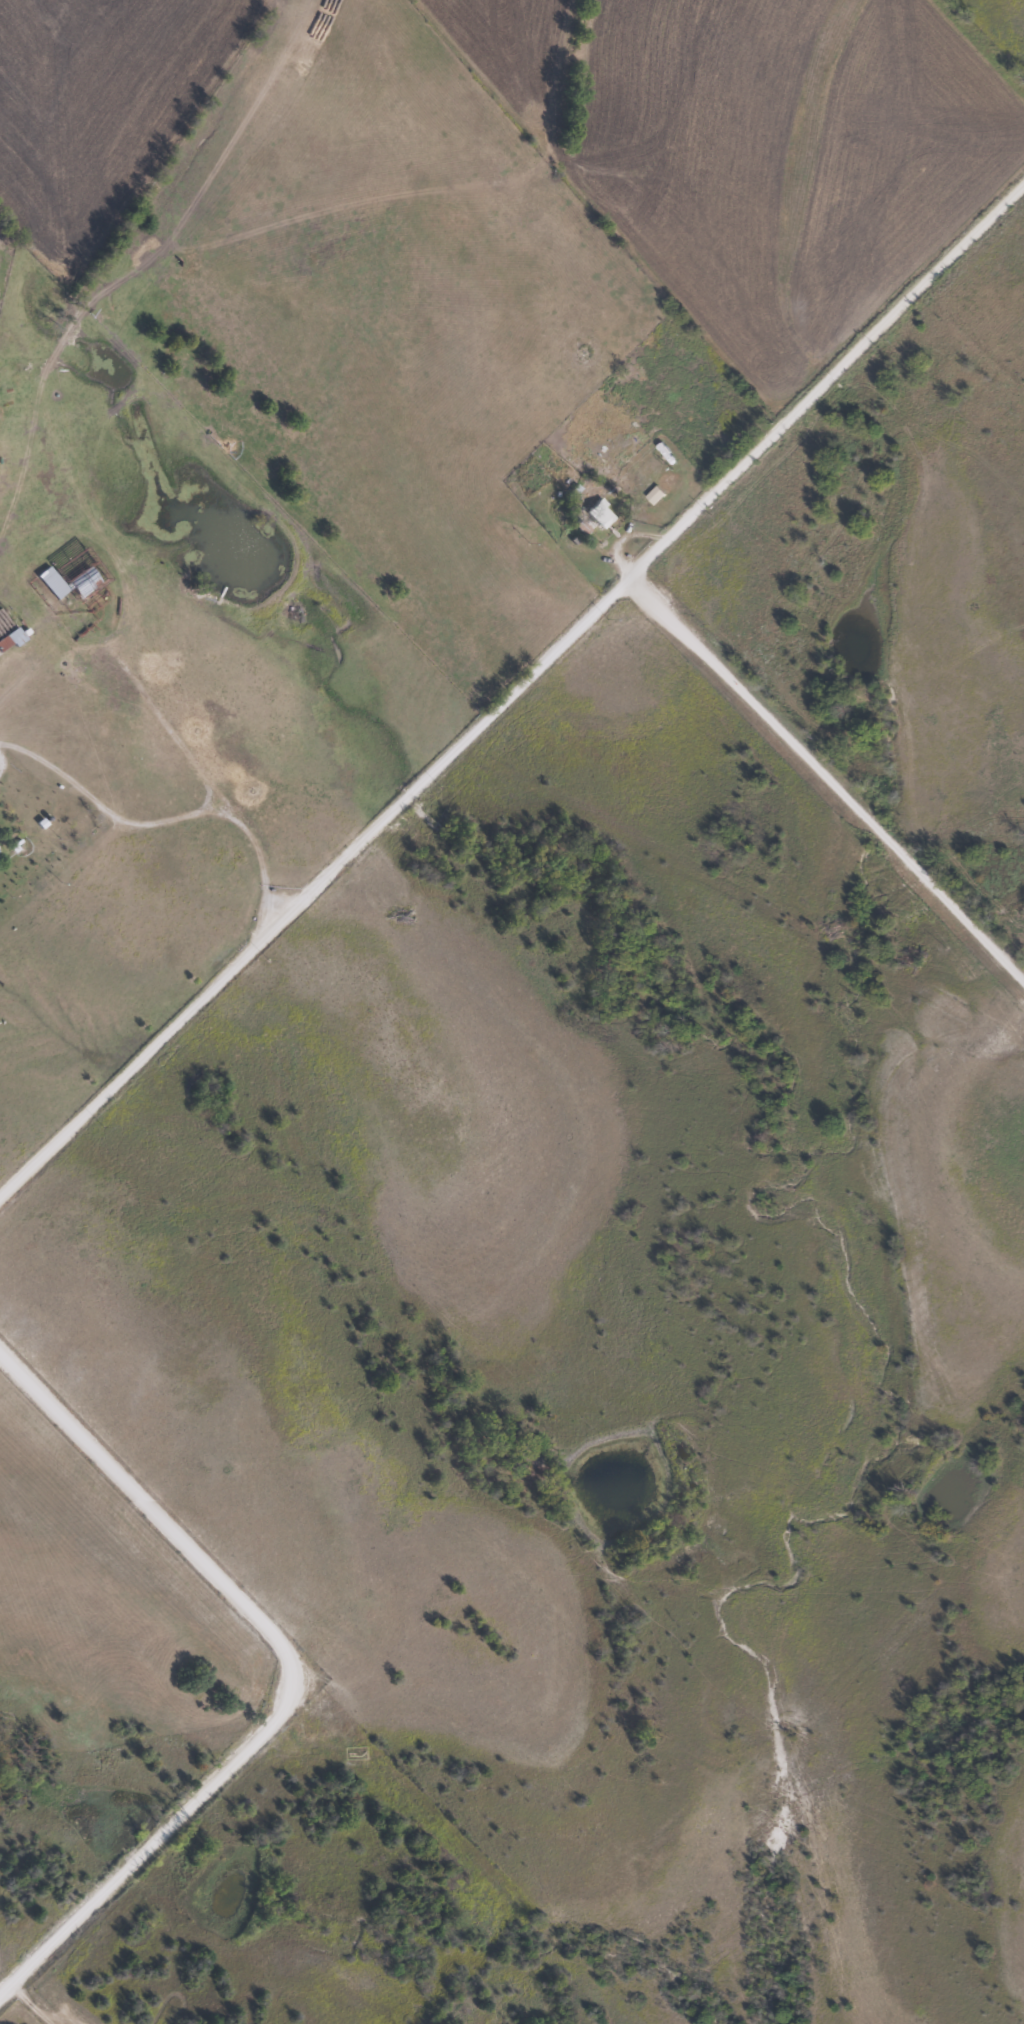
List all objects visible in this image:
road: (823, 381)
building: (555, 484)
building: (601, 513)
building: (84, 580)
building: (52, 581)
road: (825, 776)
road: (165, 822)
building: (75, 829)
road: (312, 887)
road: (293, 1662)

